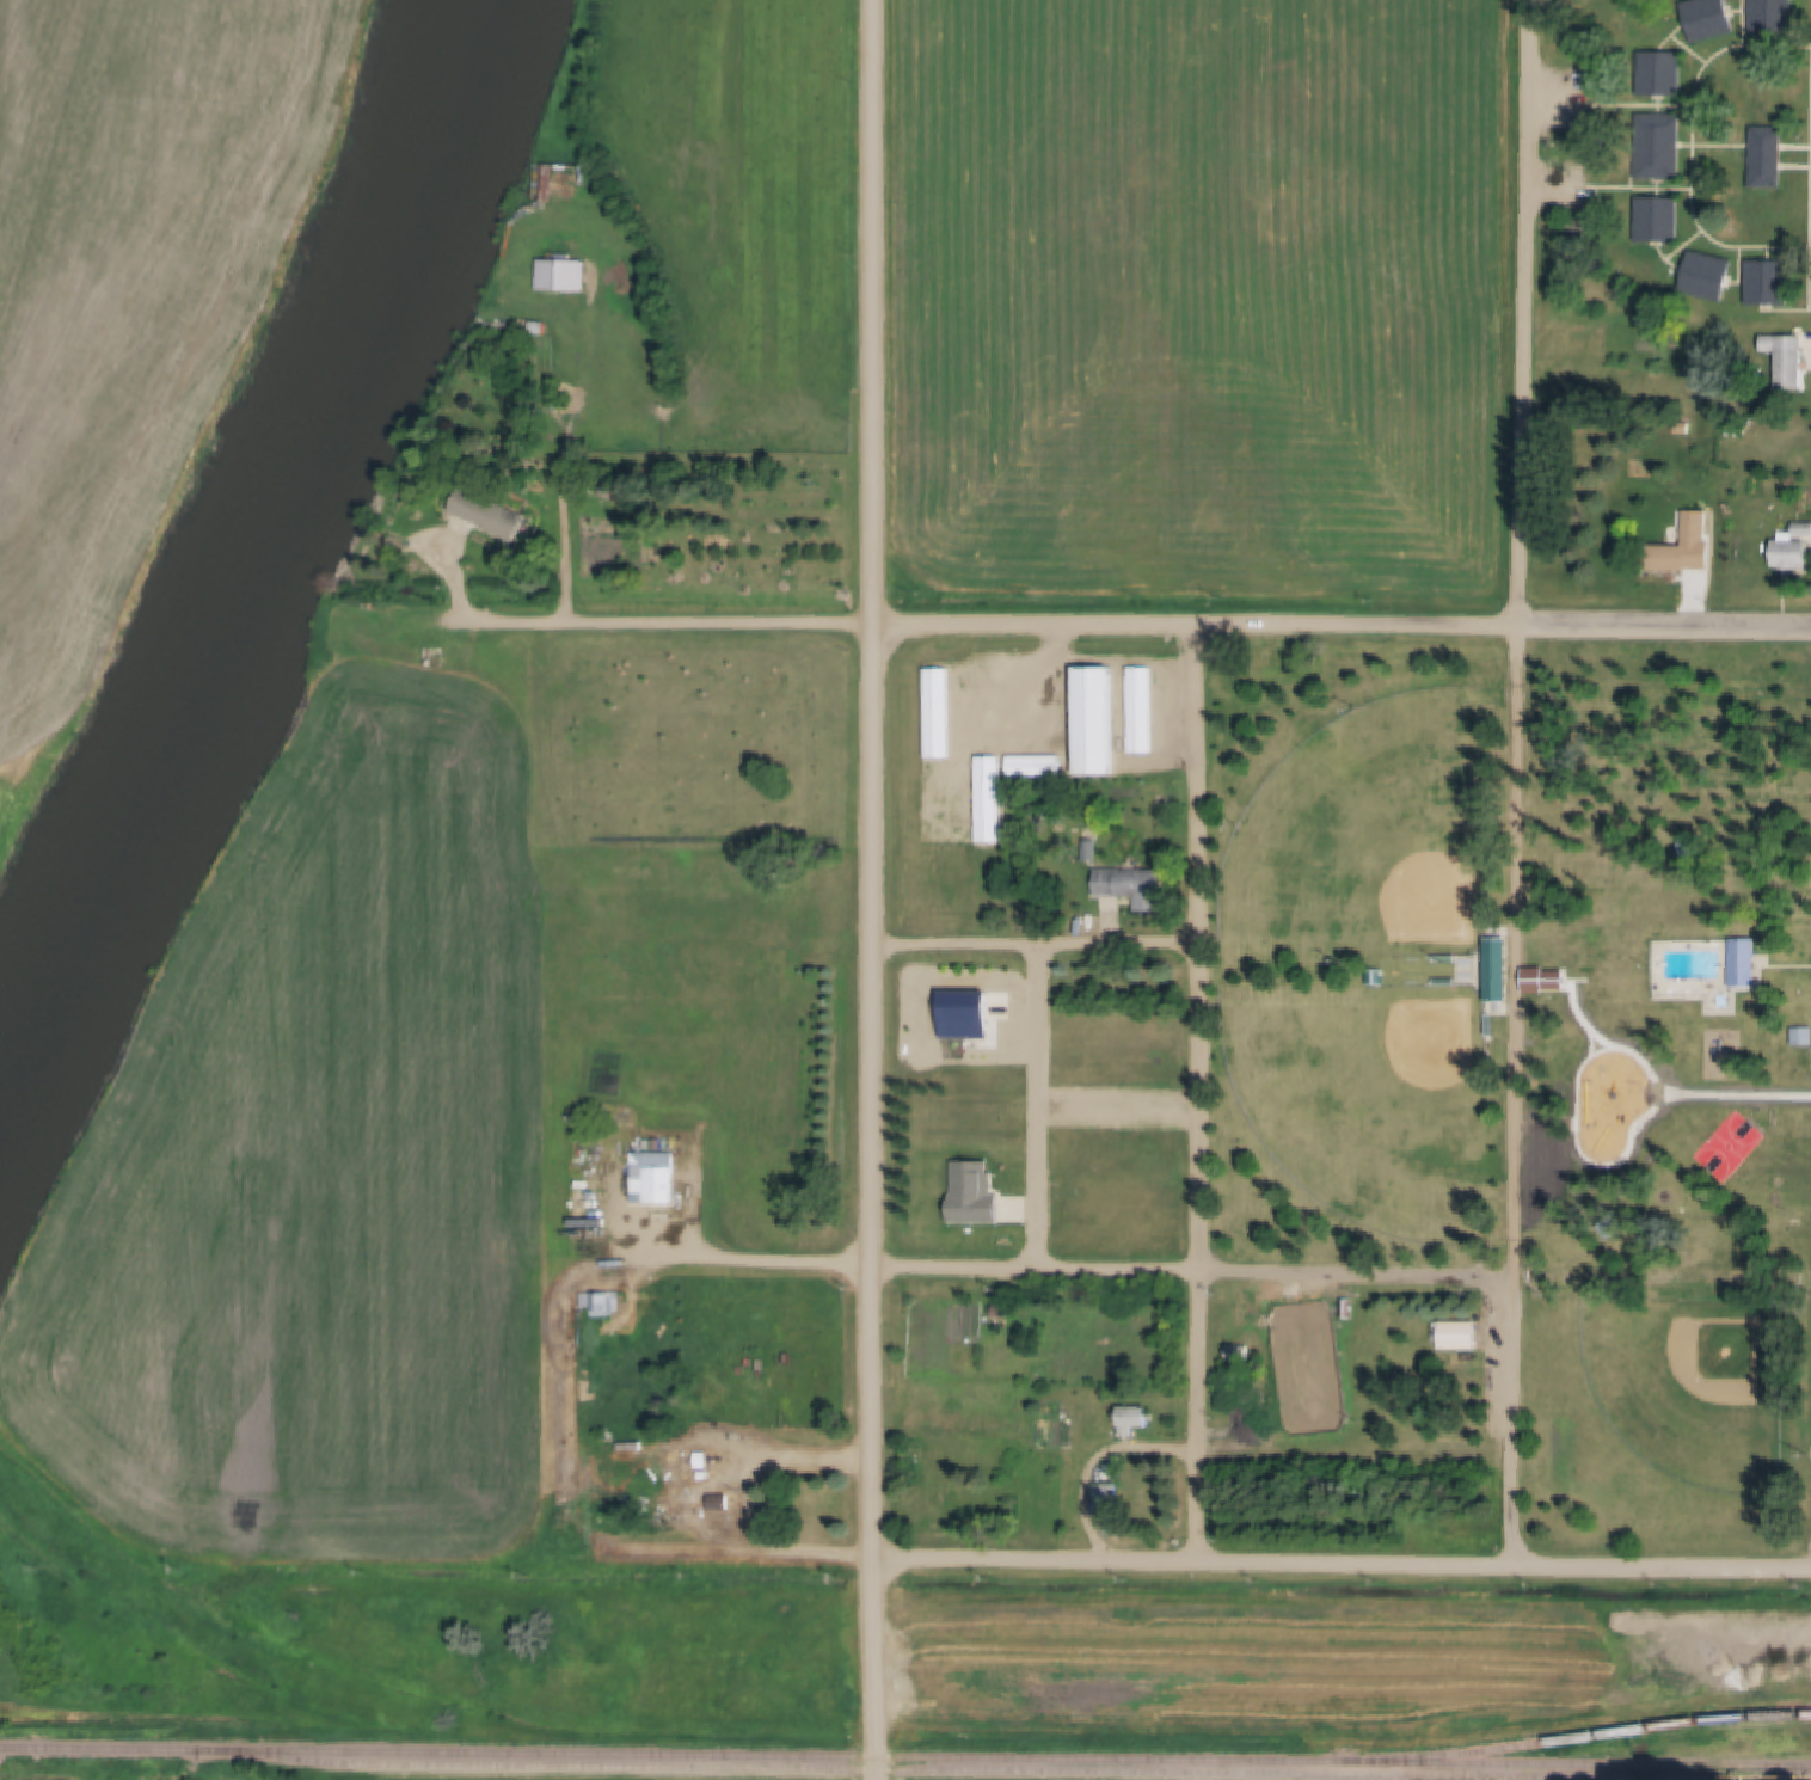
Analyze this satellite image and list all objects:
building: (1773, 16)
building: (1709, 18)
building: (1663, 72)
building: (1663, 146)
building: (1772, 156)
building: (560, 180)
building: (555, 184)
building: (1662, 219)
building: (1582, 225)
building: (1582, 243)
building: (567, 274)
building: (1711, 276)
building: (1772, 282)
road: (878, 311)
road: (1529, 312)
building: (545, 329)
building: (1789, 360)
building: (1707, 382)
building: (1688, 429)
building: (1737, 430)
road: (565, 508)
building: (497, 514)
building: (1699, 527)
building: (1795, 547)
river: (276, 553)
building: (1675, 558)
road: (661, 620)
road: (1198, 621)
road: (1665, 626)
building: (1141, 708)
building: (939, 712)
building: (1095, 720)
building: (1036, 765)
park: (1371, 835)
building: (1137, 886)
road: (1038, 941)
road: (1517, 950)
park: (1672, 953)
building: (1448, 959)
building: (1746, 963)
building: (1466, 971)
building: (1371, 980)
building: (1561, 980)
building: (1447, 982)
building: (1803, 1031)
road: (1199, 1091)
park: (1374, 1101)
road: (1038, 1105)
building: (657, 1179)
road: (877, 1201)
building: (1615, 1227)
road: (747, 1260)
road: (1197, 1270)
road: (1664, 1277)
building: (603, 1303)
building: (1002, 1311)
building: (1462, 1336)
building: (1241, 1352)
park: (1672, 1408)
building: (1256, 1414)
building: (1138, 1417)
road: (1517, 1420)
building: (915, 1454)
building: (705, 1461)
building: (706, 1475)
building: (1107, 1497)
building: (723, 1504)
road: (579, 1529)
road: (1344, 1563)
railway: (1767, 1712)
railway: (1592, 1735)
railway: (905, 1755)
railway: (1007, 1770)

